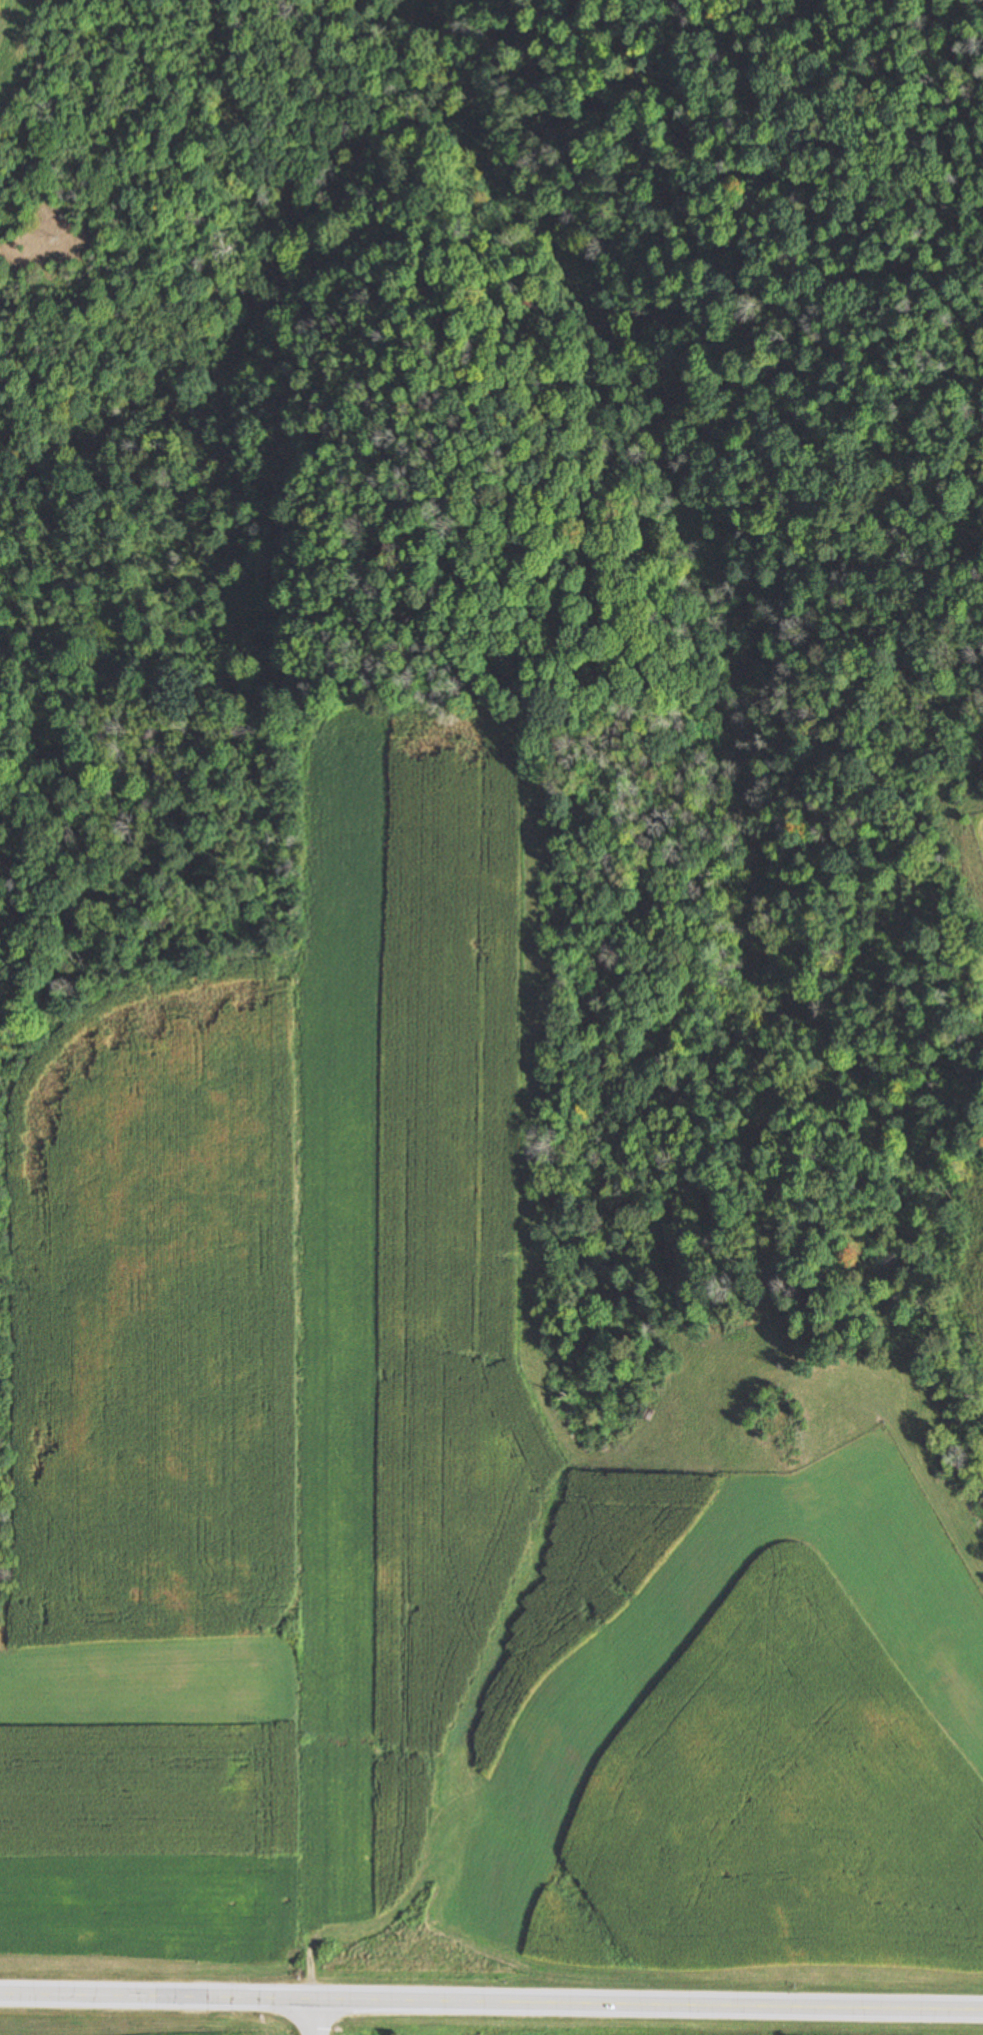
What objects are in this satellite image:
road: (157, 1990)
road: (649, 1999)
road: (315, 2013)

